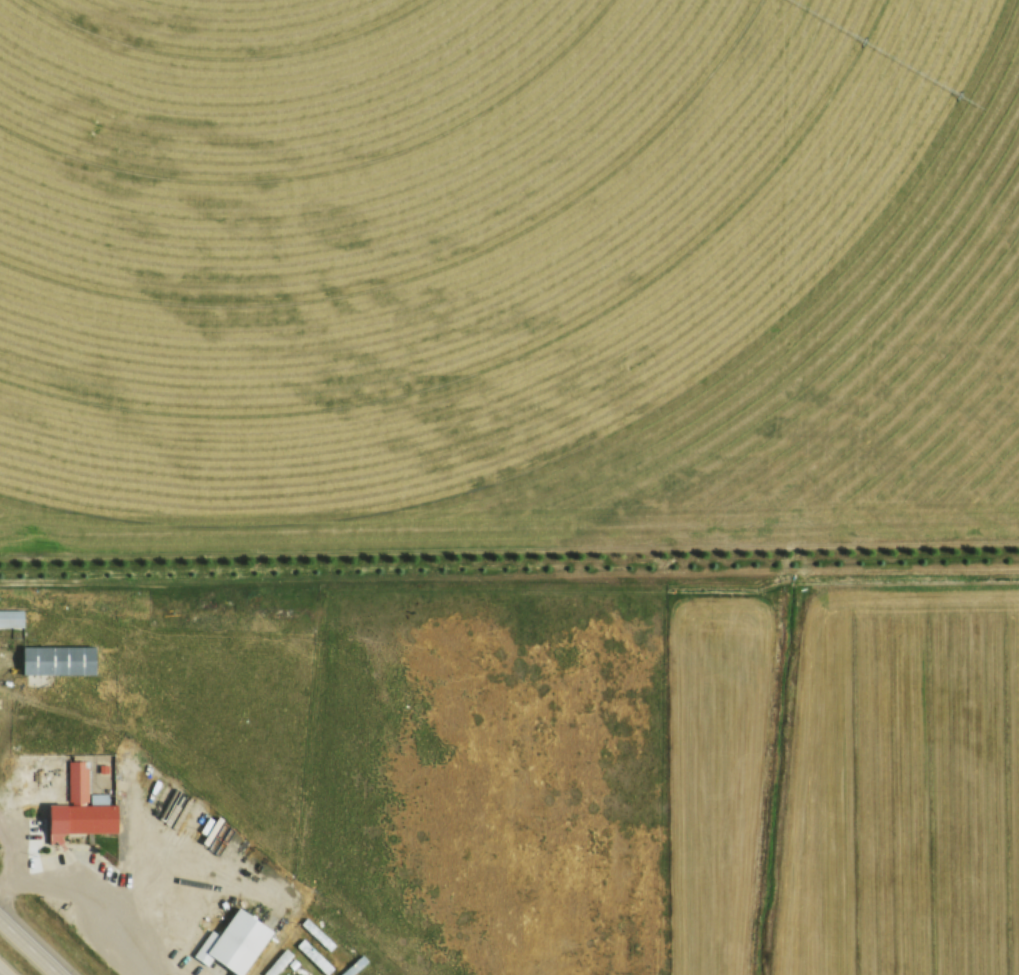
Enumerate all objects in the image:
building: (10, 618)
building: (57, 660)
building: (81, 807)
road: (73, 897)
building: (232, 944)
road: (29, 946)
building: (329, 968)
road: (3, 971)

